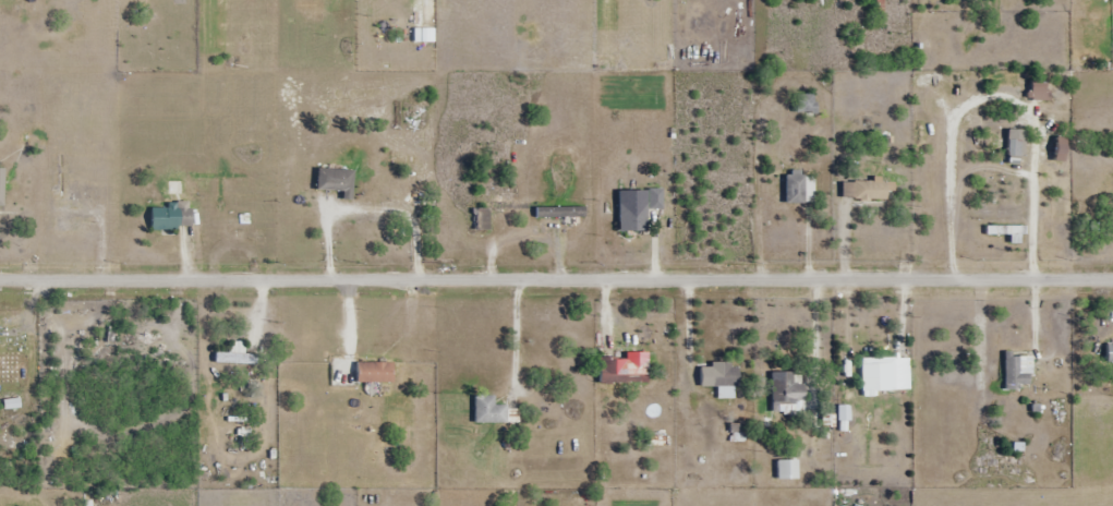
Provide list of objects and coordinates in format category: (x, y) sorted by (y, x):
building: (1040, 92)
building: (806, 105)
building: (1015, 147)
building: (336, 182)
building: (1, 188)
building: (397, 188)
building: (799, 190)
building: (863, 192)
building: (655, 198)
building: (559, 213)
building: (632, 214)
building: (171, 217)
building: (69, 219)
building: (481, 220)
building: (1004, 231)
road: (556, 280)
building: (235, 358)
building: (625, 369)
building: (1018, 371)
building: (374, 372)
building: (884, 375)
building: (725, 379)
building: (787, 393)
building: (488, 410)

